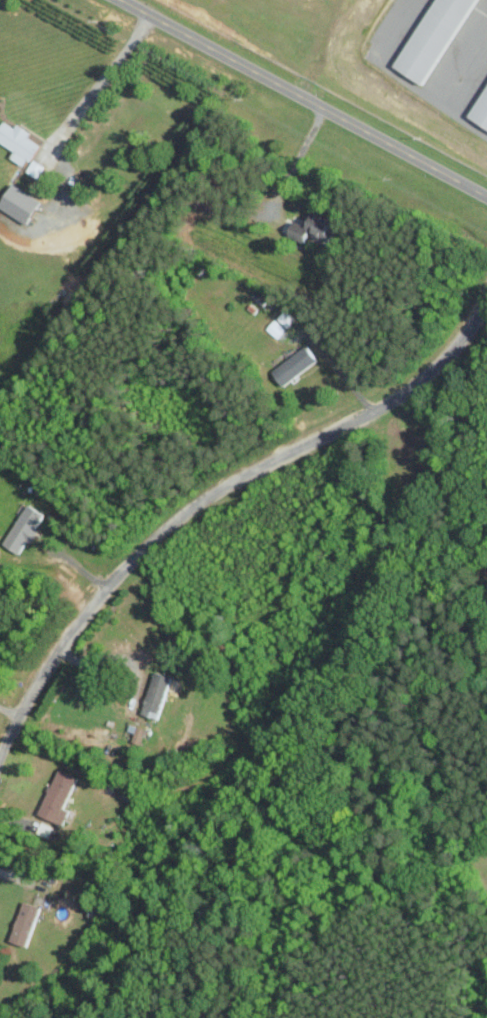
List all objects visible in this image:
airport taxiway: (385, 22)
building: (431, 37)
airport taxiway: (465, 63)
road: (99, 82)
road: (429, 97)
road: (303, 98)
building: (480, 108)
building: (19, 142)
road: (294, 160)
building: (34, 167)
building: (22, 204)
building: (316, 226)
building: (286, 318)
building: (275, 328)
building: (296, 364)
road: (210, 493)
building: (24, 528)
road: (115, 653)
building: (158, 690)
building: (151, 711)
building: (58, 797)
building: (25, 922)

